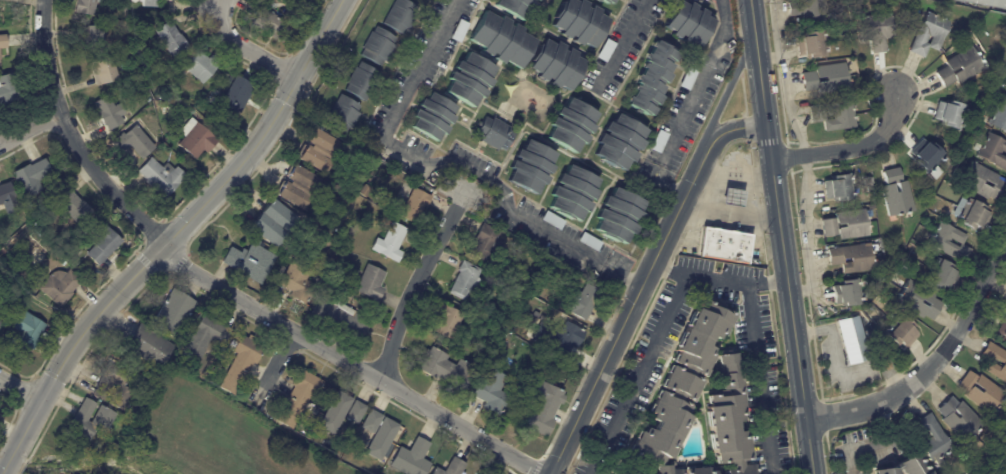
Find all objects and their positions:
building: (535, 0)
building: (605, 1)
building: (149, 3)
building: (988, 3)
building: (86, 6)
building: (514, 7)
building: (812, 10)
building: (398, 15)
building: (579, 22)
building: (275, 23)
building: (687, 23)
building: (458, 30)
building: (877, 30)
building: (1005, 32)
building: (931, 34)
building: (1001, 36)
building: (92, 37)
building: (171, 39)
building: (501, 39)
building: (2, 41)
road: (622, 42)
building: (812, 45)
road: (244, 46)
building: (376, 46)
building: (605, 50)
road: (769, 58)
building: (556, 64)
building: (0, 65)
building: (200, 66)
building: (962, 67)
building: (104, 70)
building: (686, 78)
building: (828, 78)
building: (468, 79)
building: (651, 79)
building: (360, 81)
road: (784, 83)
building: (5, 89)
building: (205, 90)
road: (725, 92)
building: (235, 93)
road: (688, 104)
building: (110, 113)
building: (340, 113)
building: (952, 114)
building: (834, 115)
building: (1000, 115)
building: (432, 116)
building: (571, 125)
road: (30, 129)
building: (493, 133)
road: (70, 136)
building: (196, 139)
building: (135, 141)
building: (658, 141)
building: (619, 142)
road: (849, 149)
building: (318, 150)
building: (993, 150)
building: (928, 156)
road: (451, 158)
building: (530, 167)
building: (162, 177)
building: (31, 178)
building: (983, 181)
building: (298, 187)
building: (839, 188)
building: (364, 191)
building: (572, 193)
building: (897, 193)
building: (731, 197)
gas station: (731, 197)
building: (8, 198)
building: (72, 204)
building: (415, 205)
building: (28, 206)
road: (730, 210)
building: (973, 213)
building: (618, 216)
building: (552, 220)
building: (274, 223)
building: (848, 225)
road: (805, 231)
road: (172, 235)
road: (781, 236)
building: (588, 240)
building: (484, 241)
building: (951, 242)
building: (102, 243)
building: (391, 243)
building: (722, 244)
building: (3, 250)
building: (73, 251)
building: (1, 256)
building: (853, 258)
building: (250, 261)
road: (669, 266)
building: (941, 274)
road: (717, 278)
building: (299, 279)
road: (642, 280)
road: (416, 281)
building: (466, 281)
road: (767, 281)
building: (371, 283)
building: (60, 286)
building: (848, 293)
building: (865, 296)
building: (917, 300)
building: (581, 301)
building: (1, 312)
building: (487, 314)
building: (173, 315)
building: (0, 316)
building: (344, 319)
building: (448, 321)
building: (498, 331)
building: (514, 331)
building: (899, 331)
building: (1003, 331)
building: (24, 332)
road: (832, 332)
building: (206, 336)
building: (559, 338)
building: (851, 340)
building: (149, 346)
road: (879, 362)
building: (1002, 362)
road: (350, 363)
building: (241, 364)
road: (933, 364)
road: (273, 367)
building: (448, 370)
road: (640, 373)
road: (759, 379)
building: (104, 387)
building: (682, 387)
road: (19, 389)
building: (492, 390)
building: (982, 393)
building: (301, 398)
building: (544, 409)
building: (342, 413)
building: (0, 416)
building: (103, 418)
building: (728, 418)
building: (958, 419)
building: (378, 434)
building: (1004, 434)
building: (936, 438)
road: (885, 441)
building: (412, 459)
building: (331, 465)
building: (905, 466)
building: (453, 468)
building: (699, 470)
road: (1, 471)
building: (613, 471)
building: (623, 472)
building: (311, 473)

